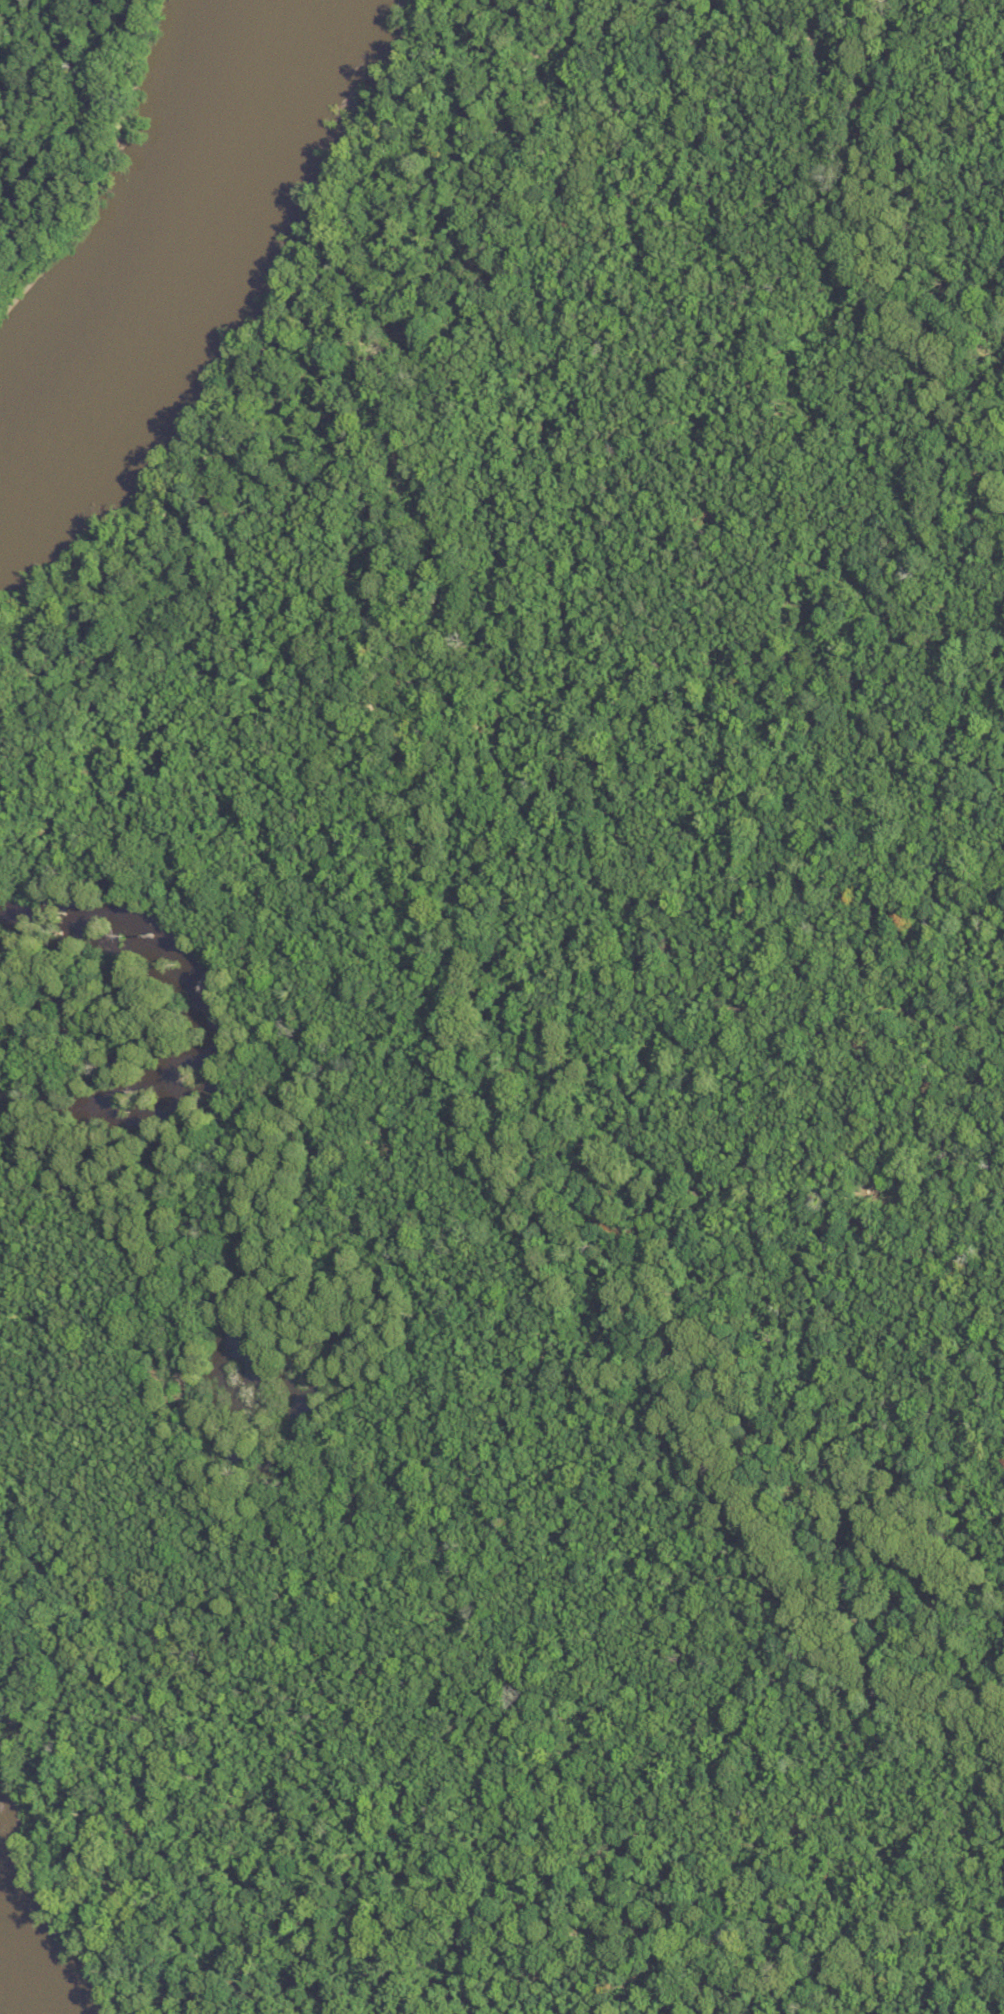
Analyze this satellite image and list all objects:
river: (230, 66)
river: (120, 275)

